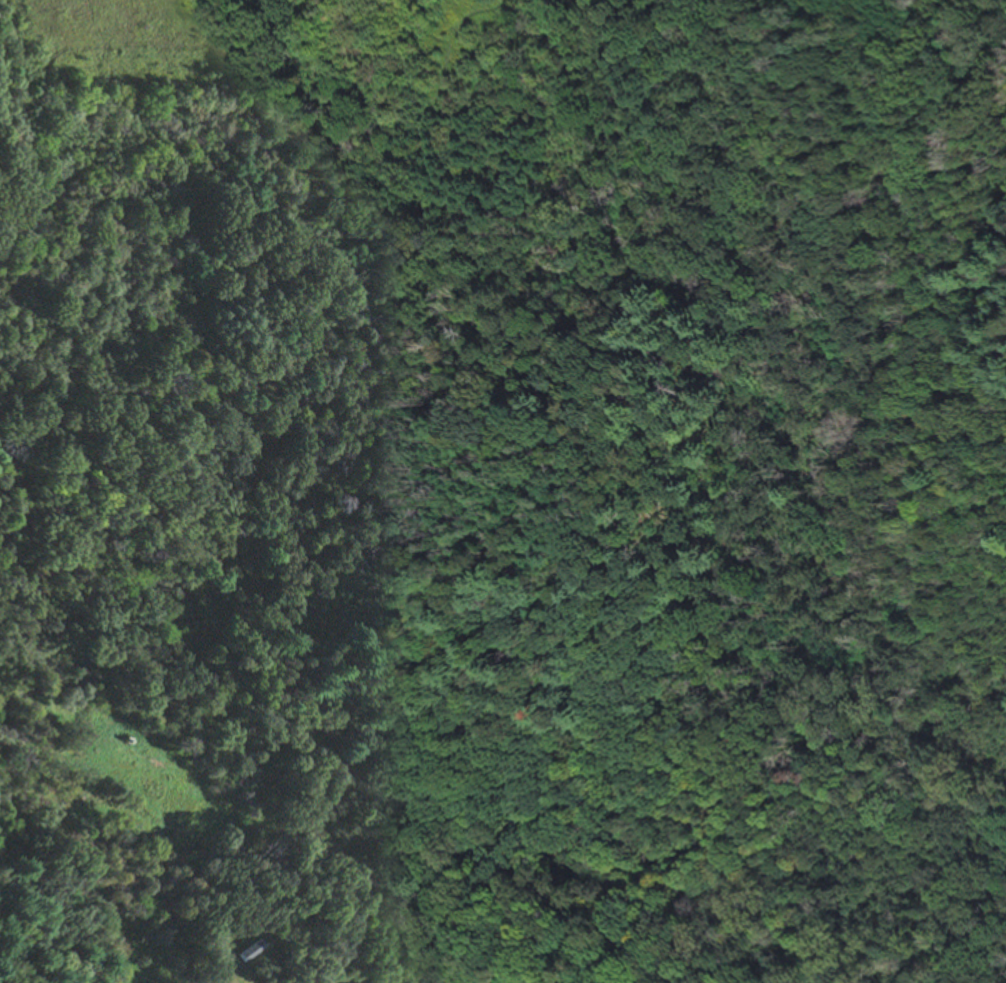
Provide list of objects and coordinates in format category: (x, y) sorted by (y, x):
building: (248, 951)

